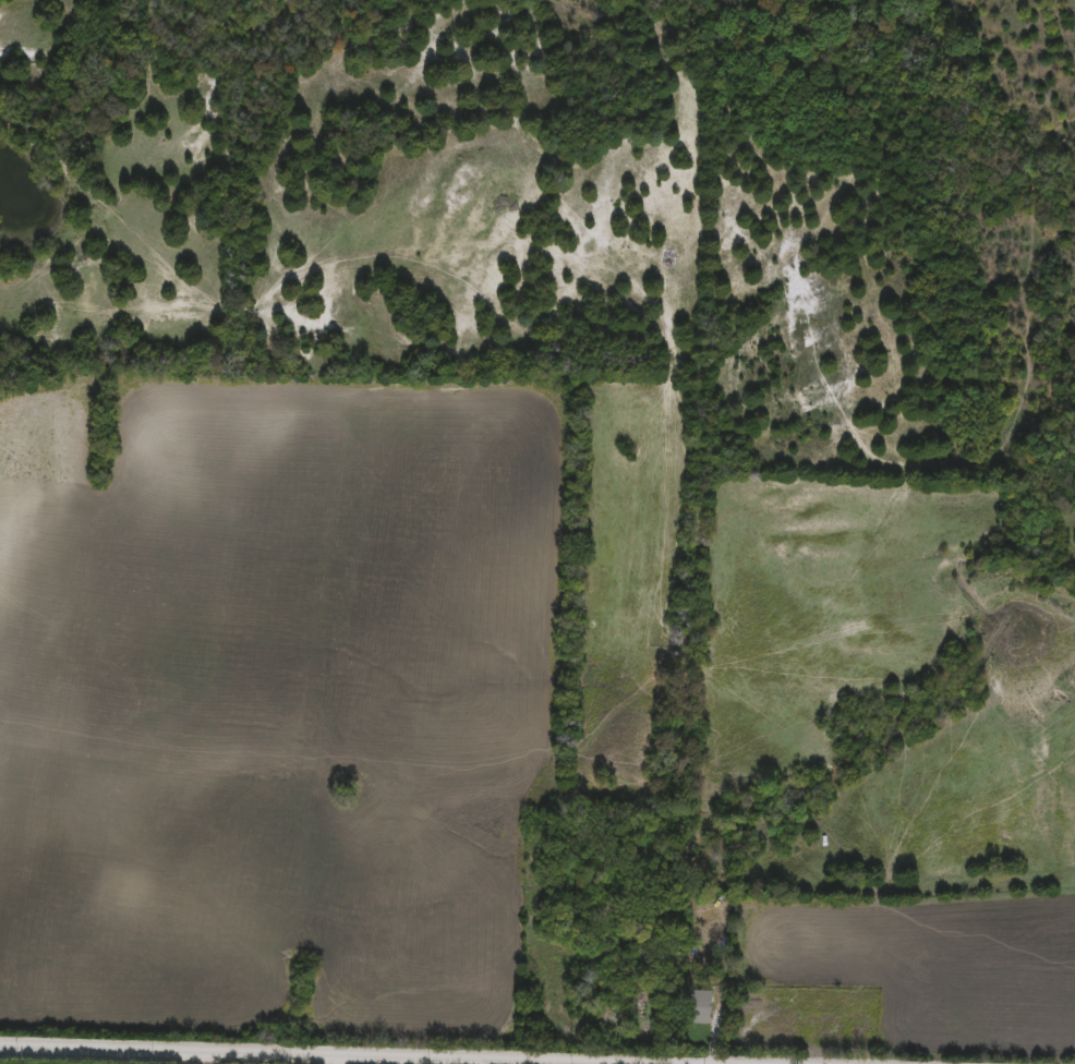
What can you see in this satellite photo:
building: (688, 954)
building: (700, 1004)
road: (306, 1054)

